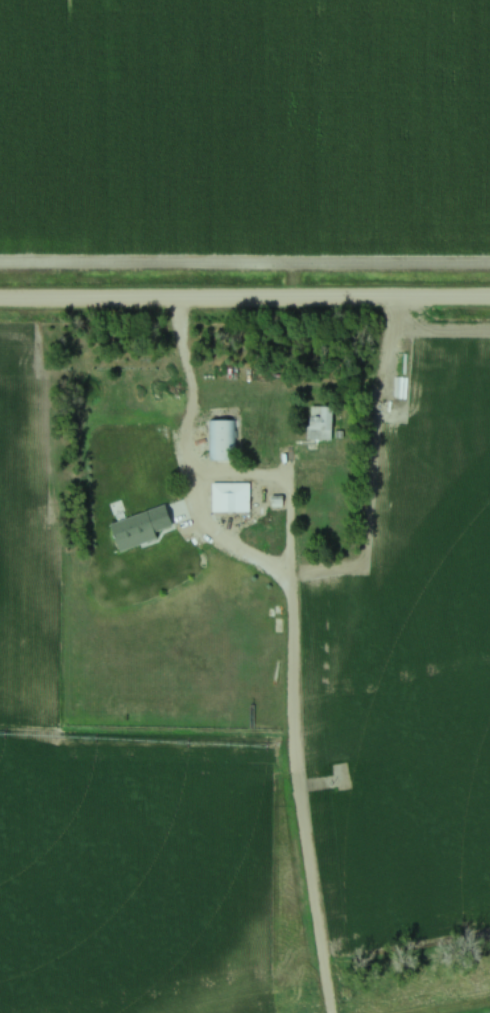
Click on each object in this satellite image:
crop: (245, 127)
road: (245, 300)
building: (402, 360)
building: (398, 386)
building: (320, 423)
building: (220, 437)
building: (230, 497)
building: (141, 528)
crop: (410, 671)
road: (282, 739)

